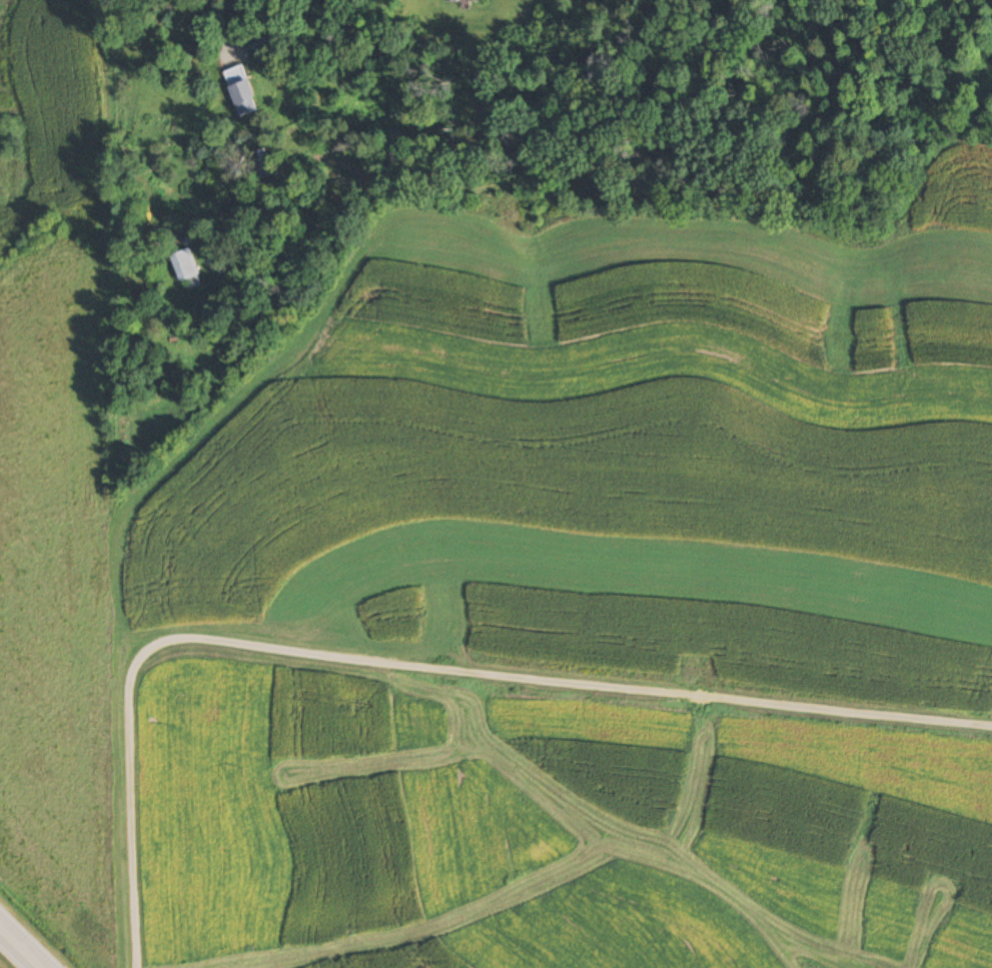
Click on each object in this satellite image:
building: (245, 4)
building: (261, 43)
building: (240, 92)
building: (263, 164)
building: (187, 267)
road: (405, 665)
road: (21, 947)

